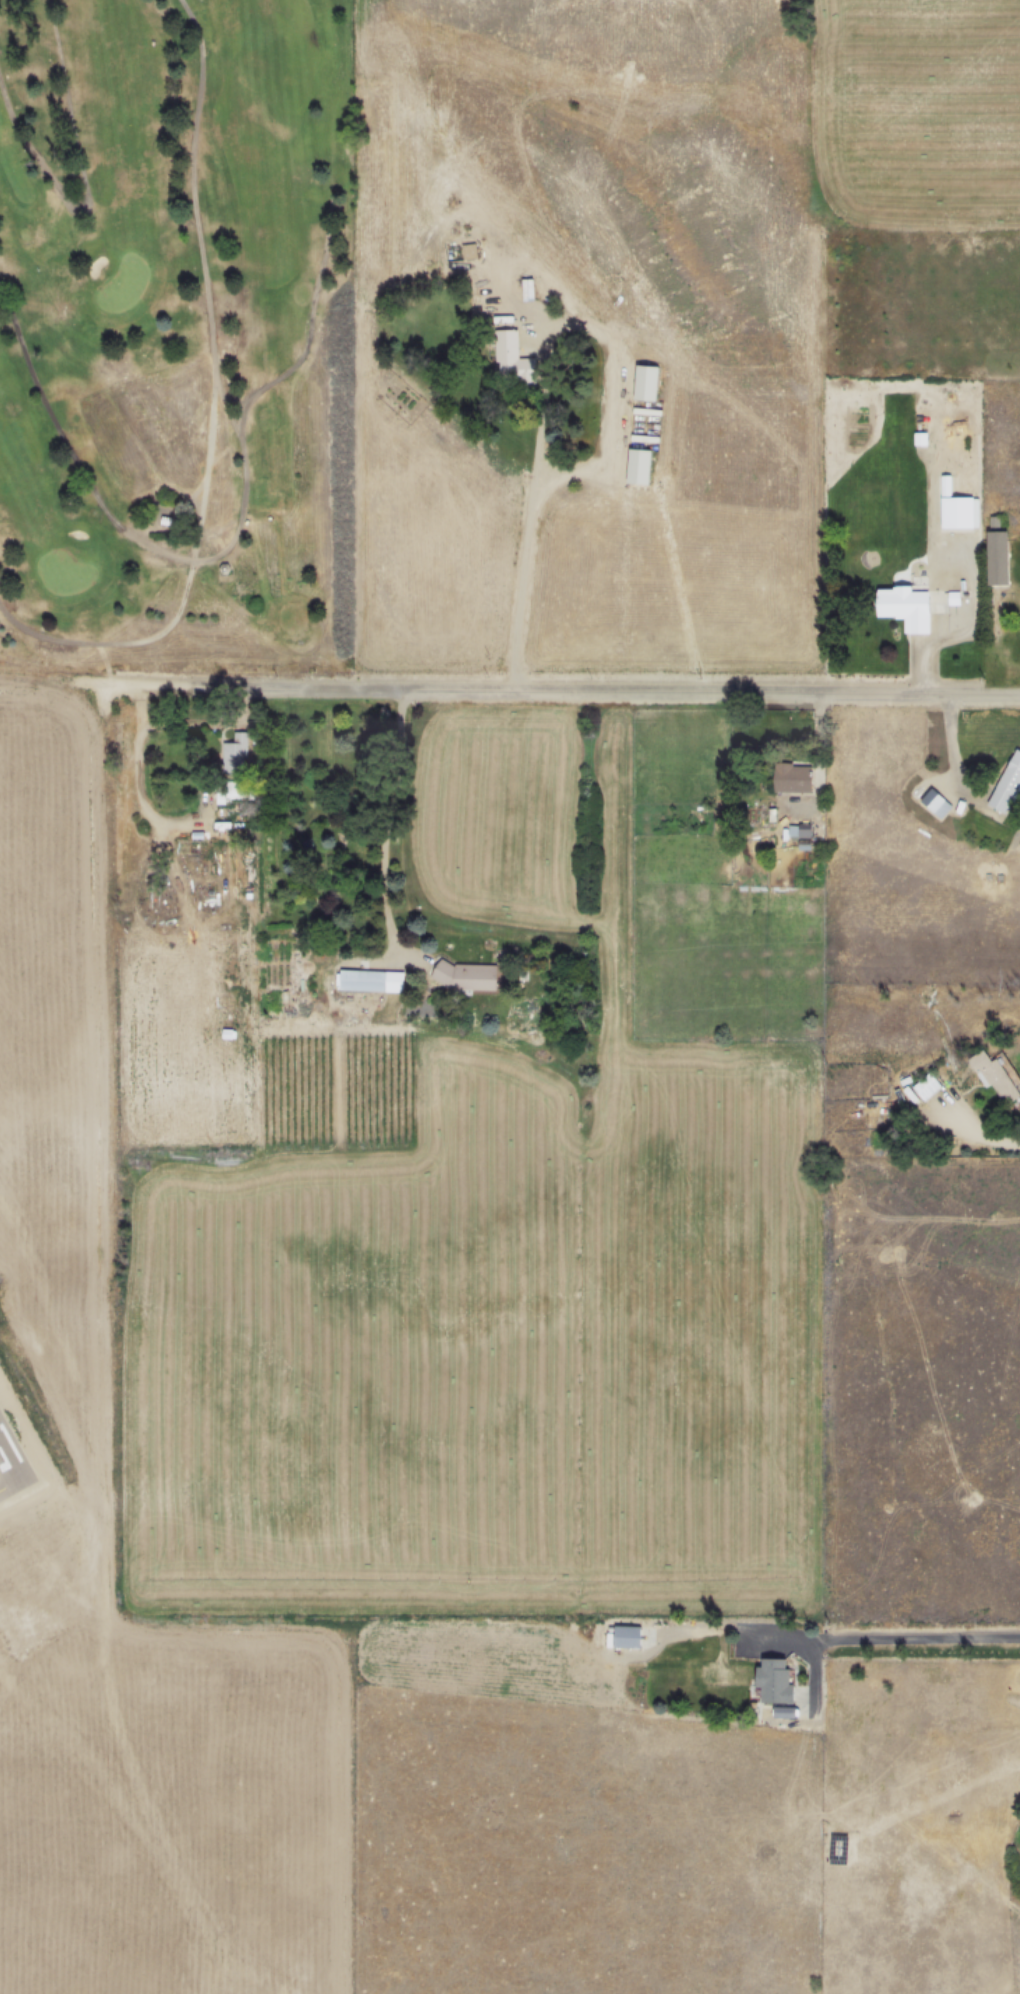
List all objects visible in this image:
building: (478, 253)
building: (536, 291)
building: (523, 363)
building: (956, 511)
building: (173, 524)
road: (534, 549)
building: (232, 572)
building: (904, 606)
road: (523, 694)
road: (201, 723)
road: (953, 758)
building: (233, 763)
road: (820, 767)
building: (791, 778)
building: (1006, 784)
road: (138, 789)
road: (385, 818)
building: (466, 976)
building: (369, 979)
building: (994, 1076)
building: (926, 1087)
road: (986, 1137)
airport: (52, 1163)
building: (626, 1638)
road: (889, 1643)
building: (774, 1683)

